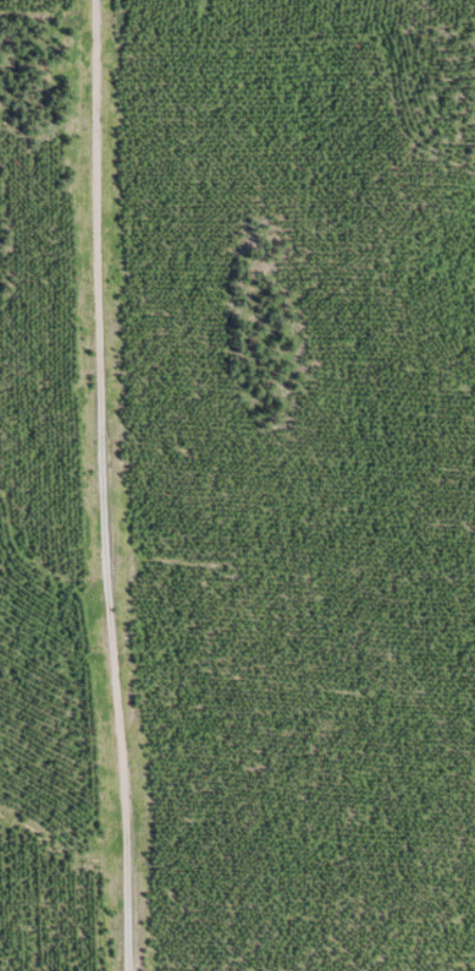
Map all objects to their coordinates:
road: (103, 485)

